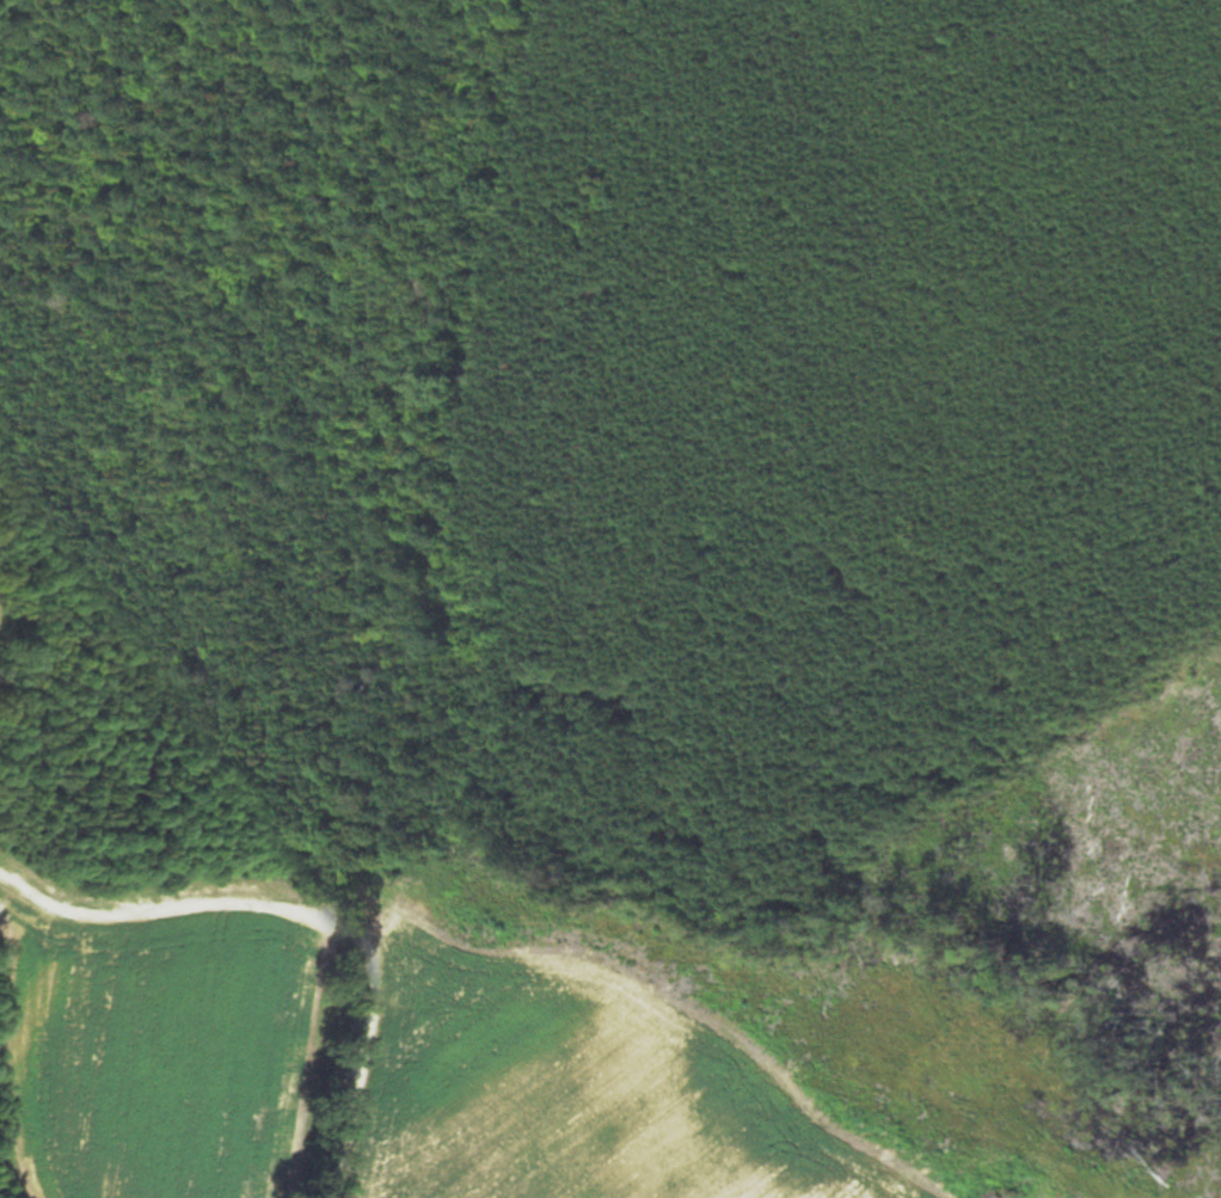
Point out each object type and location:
road: (314, 917)

